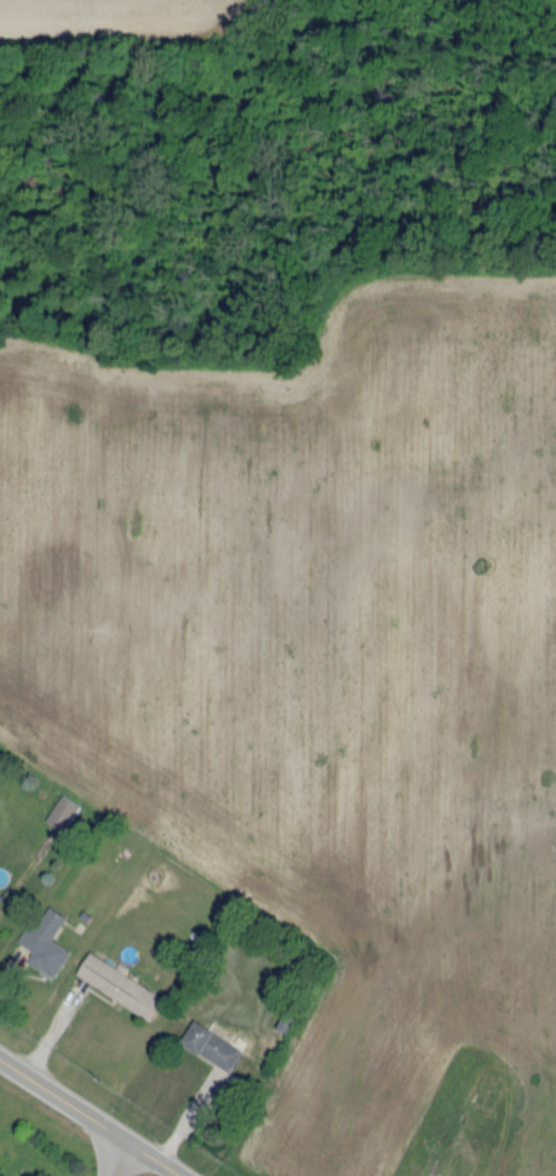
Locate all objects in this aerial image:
road: (274, 365)
park: (210, 388)
building: (116, 403)
road: (275, 406)
road: (242, 433)
building: (389, 449)
building: (485, 502)
building: (205, 508)
building: (533, 537)
building: (309, 549)
building: (354, 577)
road: (21, 600)
building: (399, 600)
building: (166, 627)
building: (445, 630)
building: (211, 655)
building: (489, 664)
building: (259, 690)
building: (53, 697)
building: (304, 718)
building: (552, 727)
building: (102, 740)
building: (351, 746)
building: (159, 772)
building: (397, 777)
road: (298, 778)
building: (208, 797)
building: (447, 806)
building: (61, 810)
building: (259, 835)
building: (491, 837)
building: (319, 862)
road: (19, 881)
building: (365, 904)
building: (45, 940)
building: (451, 952)
building: (117, 982)
building: (422, 1003)
building: (210, 1043)
building: (390, 1055)
road: (471, 1057)
road: (487, 1068)
building: (360, 1096)
road: (92, 1117)
building: (333, 1146)
road: (121, 1159)

